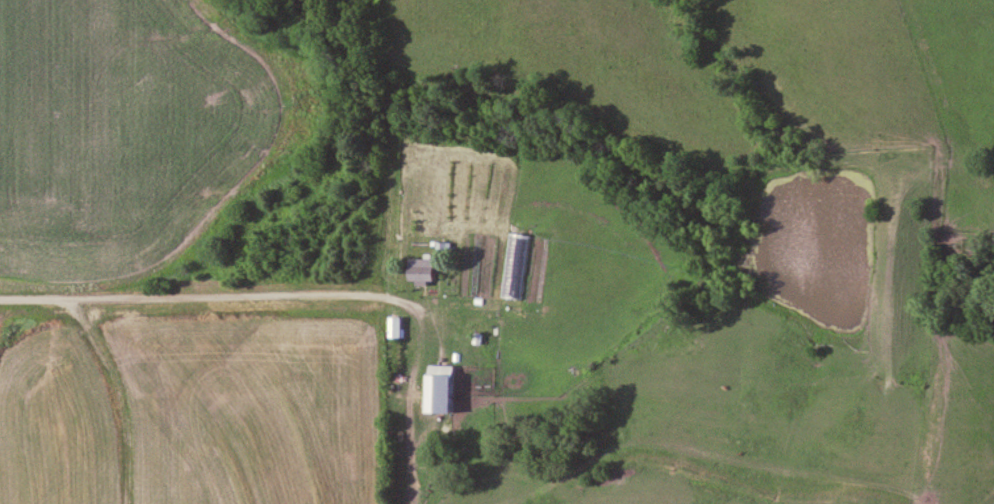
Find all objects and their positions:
building: (424, 271)
building: (469, 280)
road: (303, 295)
road: (117, 401)

